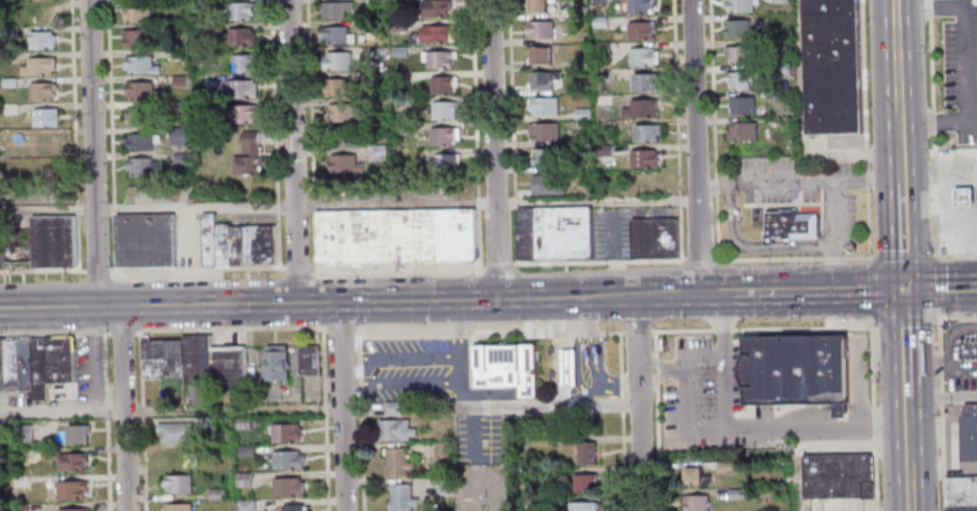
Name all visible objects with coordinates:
building: (597, 1)
building: (375, 2)
building: (396, 2)
building: (779, 2)
road: (969, 2)
building: (197, 4)
building: (538, 6)
building: (740, 6)
building: (638, 7)
building: (432, 9)
building: (239, 10)
building: (334, 10)
building: (136, 14)
road: (894, 14)
building: (600, 23)
building: (398, 26)
building: (370, 27)
building: (737, 29)
building: (200, 30)
building: (538, 30)
building: (640, 31)
building: (335, 35)
building: (433, 35)
building: (238, 37)
building: (47, 39)
building: (135, 39)
road: (967, 44)
building: (600, 50)
building: (398, 52)
building: (377, 53)
building: (738, 55)
building: (538, 56)
building: (640, 57)
building: (436, 60)
building: (336, 61)
building: (243, 64)
building: (579, 64)
building: (41, 65)
building: (139, 65)
building: (832, 66)
road: (896, 70)
building: (782, 71)
road: (801, 77)
building: (371, 80)
building: (542, 80)
building: (739, 80)
building: (10, 81)
building: (207, 81)
building: (179, 82)
building: (644, 82)
street lamp: (105, 83)
building: (440, 85)
building: (335, 88)
building: (239, 89)
building: (43, 90)
building: (140, 91)
building: (782, 97)
building: (740, 106)
building: (177, 107)
building: (542, 108)
building: (638, 109)
building: (442, 111)
building: (340, 113)
building: (241, 114)
building: (581, 114)
building: (138, 115)
building: (46, 117)
building: (396, 117)
road: (954, 121)
building: (605, 126)
road: (677, 130)
road: (714, 130)
road: (865, 130)
road: (933, 130)
building: (402, 131)
road: (511, 131)
building: (543, 131)
building: (741, 132)
building: (646, 133)
road: (274, 134)
road: (74, 135)
road: (475, 135)
building: (177, 136)
road: (310, 137)
building: (441, 138)
road: (111, 139)
building: (46, 142)
building: (140, 142)
road: (694, 146)
road: (898, 148)
road: (493, 149)
road: (293, 151)
road: (92, 153)
building: (375, 155)
road: (851, 155)
building: (247, 156)
building: (544, 158)
building: (179, 160)
building: (643, 160)
building: (445, 164)
building: (343, 165)
building: (48, 166)
building: (141, 168)
road: (864, 179)
road: (783, 182)
building: (546, 184)
road: (716, 184)
building: (964, 199)
road: (348, 205)
road: (830, 219)
building: (792, 223)
building: (554, 232)
building: (456, 234)
building: (413, 235)
building: (354, 236)
road: (901, 236)
building: (655, 237)
building: (51, 240)
building: (1, 241)
building: (144, 242)
building: (236, 244)
road: (752, 245)
building: (16, 246)
road: (955, 255)
road: (903, 256)
road: (858, 257)
road: (833, 258)
road: (770, 259)
road: (700, 260)
road: (598, 261)
road: (719, 261)
road: (497, 266)
road: (282, 268)
road: (42, 270)
road: (97, 270)
road: (194, 270)
road: (298, 270)
road: (397, 272)
road: (313, 274)
road: (832, 274)
street lamp: (75, 275)
road: (940, 286)
road: (939, 287)
road: (870, 288)
traffic signals: (903, 288)
road: (853, 289)
road: (764, 292)
road: (108, 302)
road: (362, 302)
road: (955, 317)
road: (905, 318)
road: (874, 319)
road: (636, 321)
road: (801, 327)
road: (232, 329)
road: (721, 329)
road: (342, 330)
road: (682, 330)
road: (637, 331)
road: (489, 333)
road: (54, 334)
road: (123, 334)
road: (904, 342)
road: (655, 343)
building: (968, 348)
road: (705, 353)
road: (354, 356)
building: (160, 357)
building: (57, 359)
road: (91, 359)
building: (195, 359)
building: (308, 359)
road: (656, 361)
road: (725, 361)
building: (23, 362)
road: (659, 362)
building: (275, 363)
building: (9, 364)
building: (1, 365)
road: (621, 365)
building: (507, 367)
building: (569, 367)
building: (37, 368)
building: (227, 368)
road: (459, 368)
road: (138, 369)
road: (637, 369)
road: (656, 369)
building: (795, 369)
parking lot: (412, 370)
parking lot: (87, 371)
road: (661, 377)
road: (656, 379)
road: (355, 384)
road: (687, 391)
road: (958, 396)
parking lot: (706, 401)
road: (622, 404)
road: (548, 405)
road: (341, 406)
road: (122, 408)
building: (391, 408)
road: (842, 408)
building: (843, 409)
road: (170, 410)
road: (797, 412)
road: (939, 412)
road: (139, 413)
road: (875, 413)
road: (861, 416)
road: (106, 419)
road: (325, 419)
road: (359, 420)
building: (208, 422)
building: (241, 423)
road: (781, 425)
building: (394, 429)
road: (907, 431)
building: (21, 432)
building: (75, 432)
building: (173, 432)
building: (284, 432)
building: (968, 432)
parking lot: (483, 439)
road: (658, 448)
building: (442, 450)
road: (640, 450)
building: (244, 451)
building: (584, 453)
building: (174, 457)
building: (285, 459)
road: (492, 459)
building: (70, 460)
road: (623, 461)
building: (395, 462)
building: (215, 464)
road: (140, 466)
building: (726, 466)
building: (693, 475)
building: (839, 476)
building: (242, 479)
road: (795, 479)
building: (583, 482)
building: (176, 483)
road: (475, 485)
road: (499, 485)
building: (286, 486)
building: (444, 486)
parking lot: (485, 486)
road: (908, 487)
building: (70, 489)
building: (961, 490)
building: (213, 493)
building: (734, 493)
building: (400, 497)
building: (694, 502)
building: (535, 504)
building: (244, 505)
building: (175, 506)
building: (582, 506)
building: (17, 507)
building: (291, 507)
building: (961, 507)
building: (71, 509)

